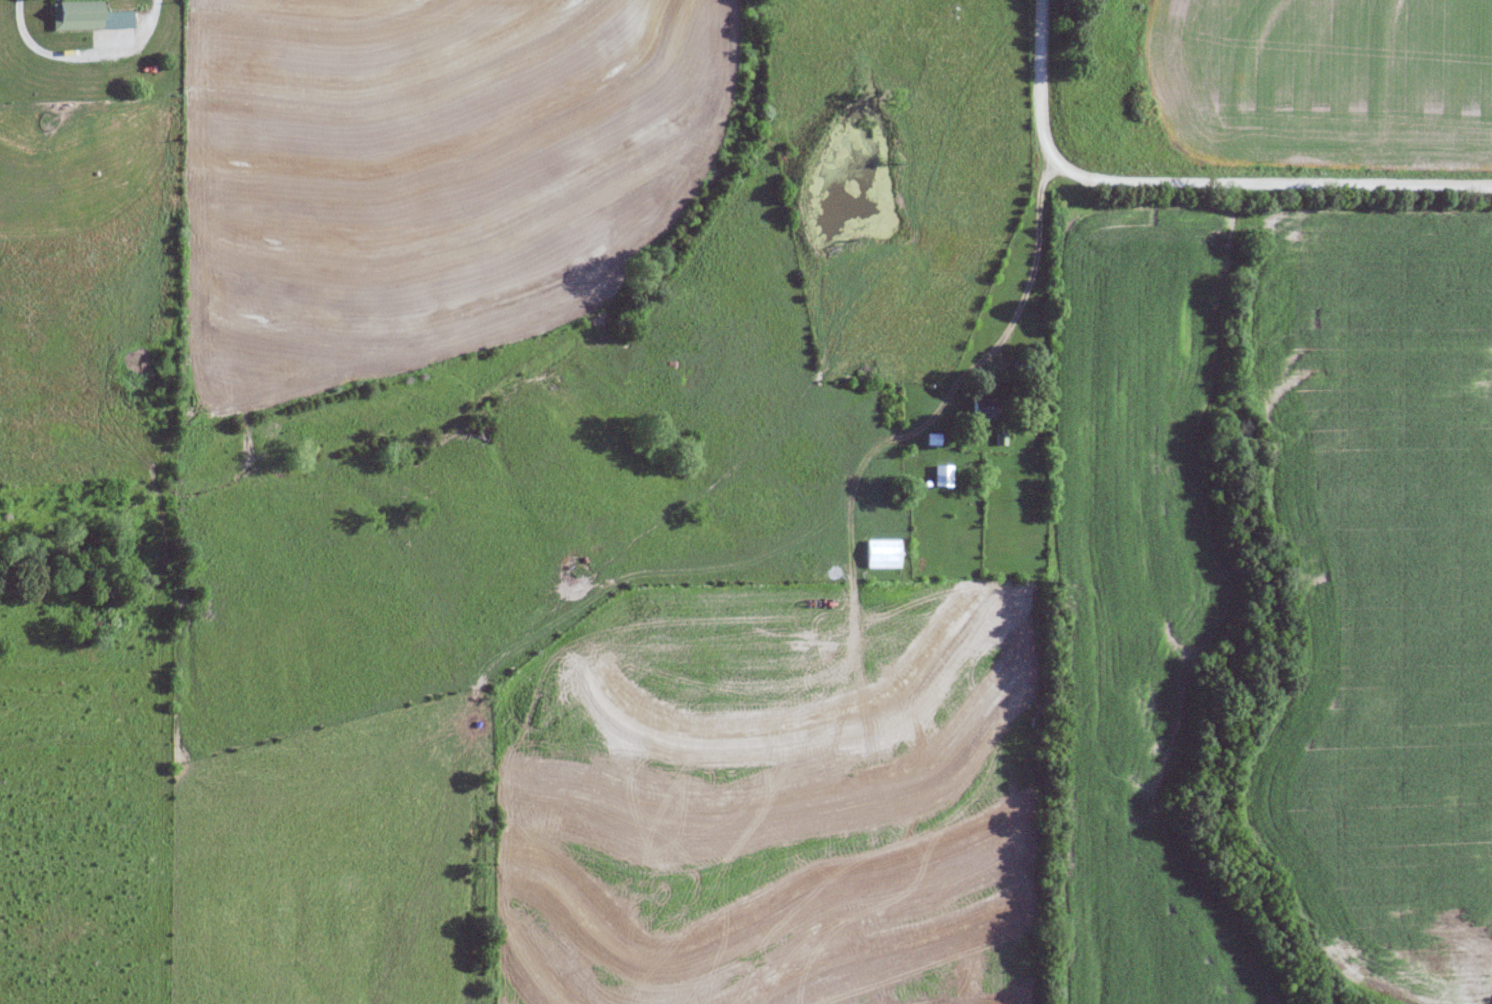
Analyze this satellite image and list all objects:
building: (86, 16)
road: (82, 55)
road: (1187, 183)
building: (981, 408)
building: (940, 476)
building: (880, 554)

